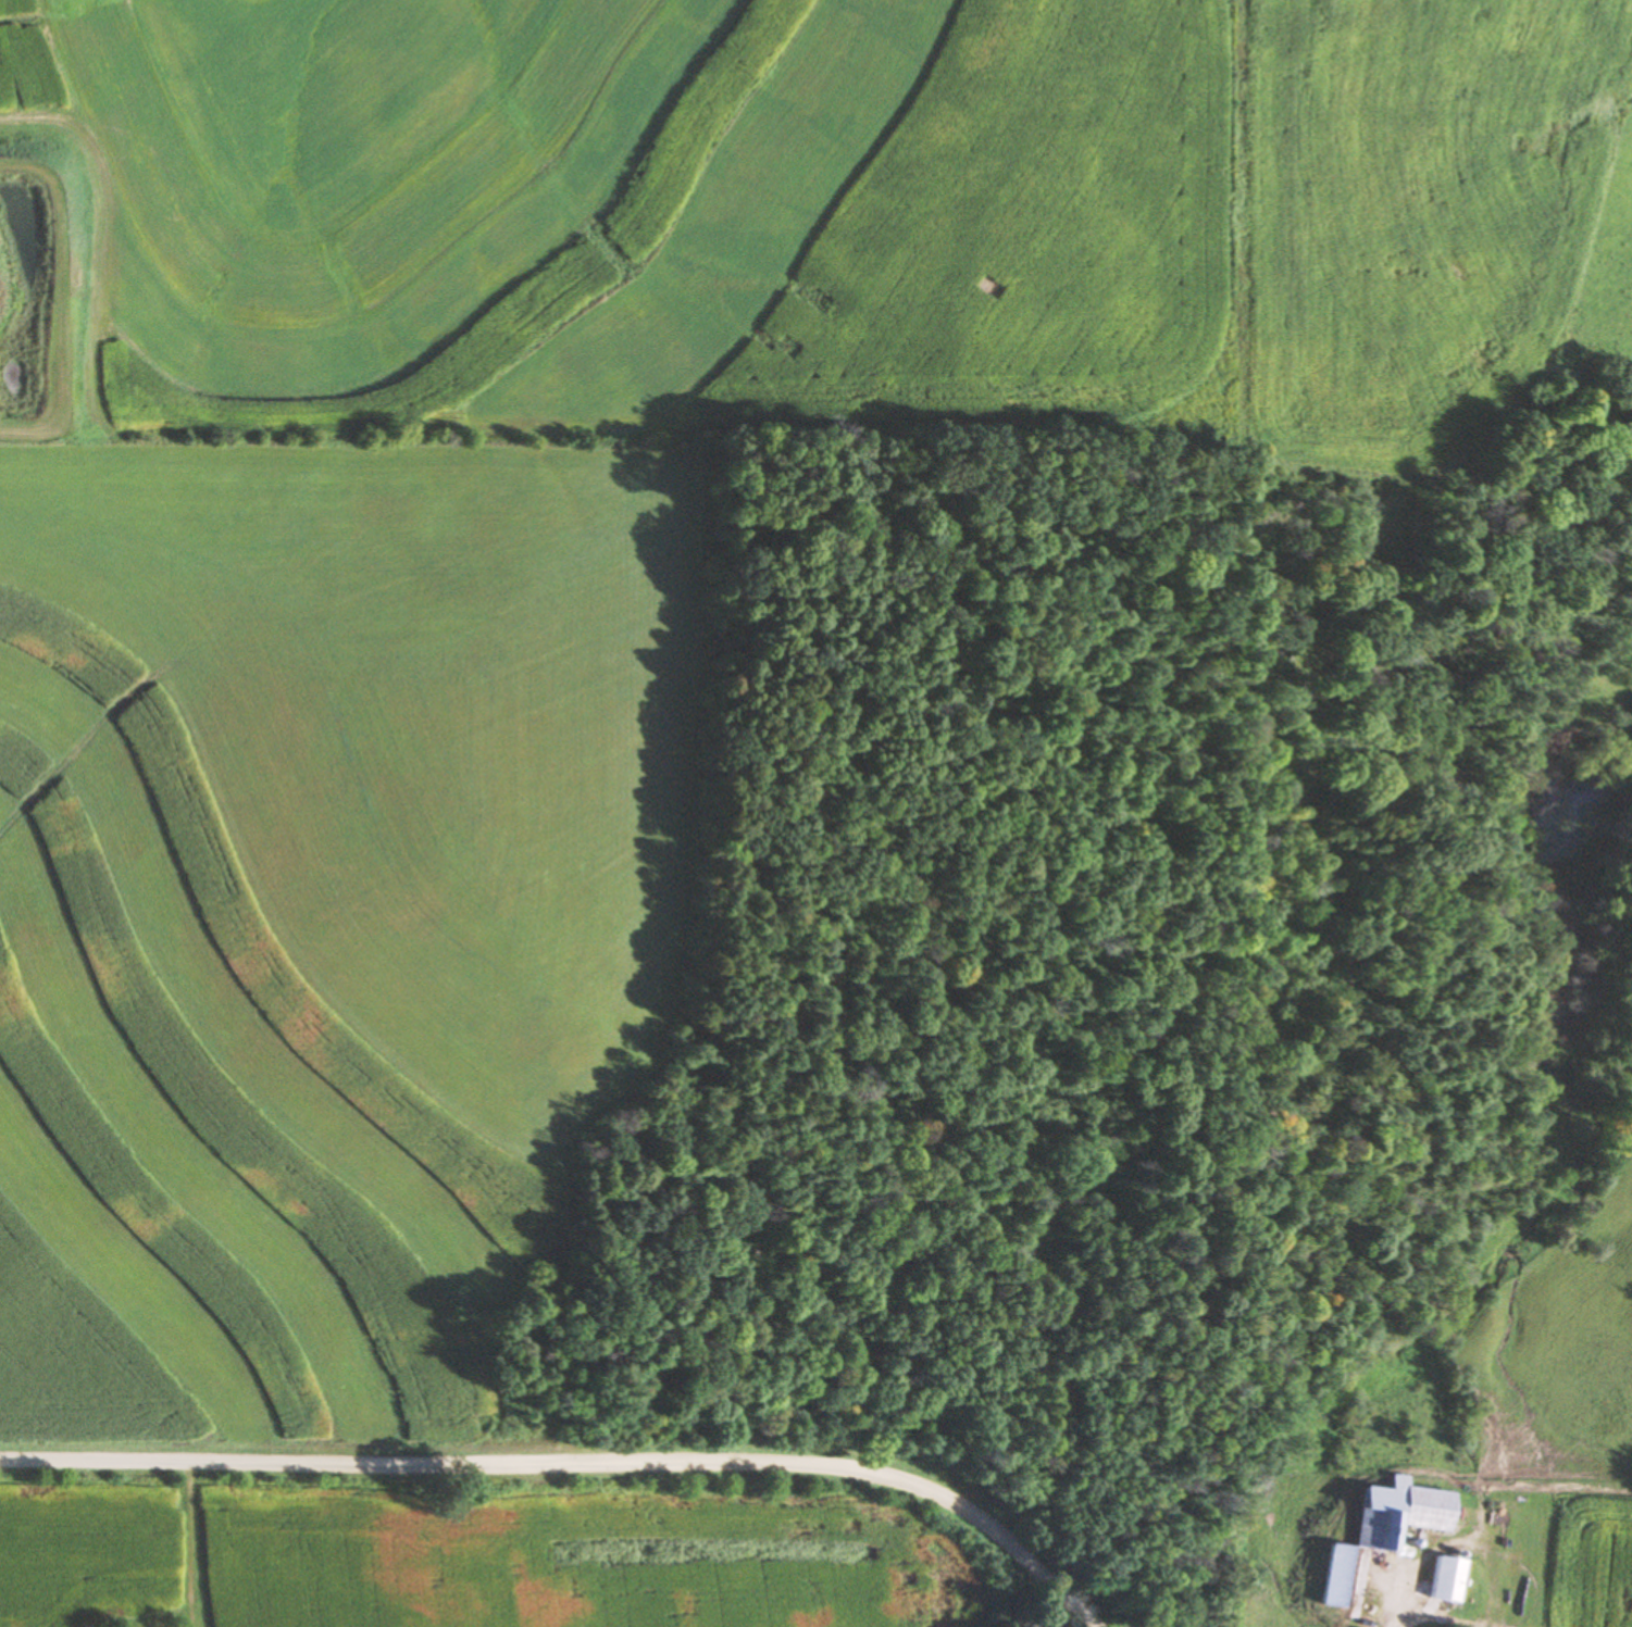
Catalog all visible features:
road: (574, 1465)
building: (1392, 1515)
building: (1328, 1577)
building: (1441, 1580)

